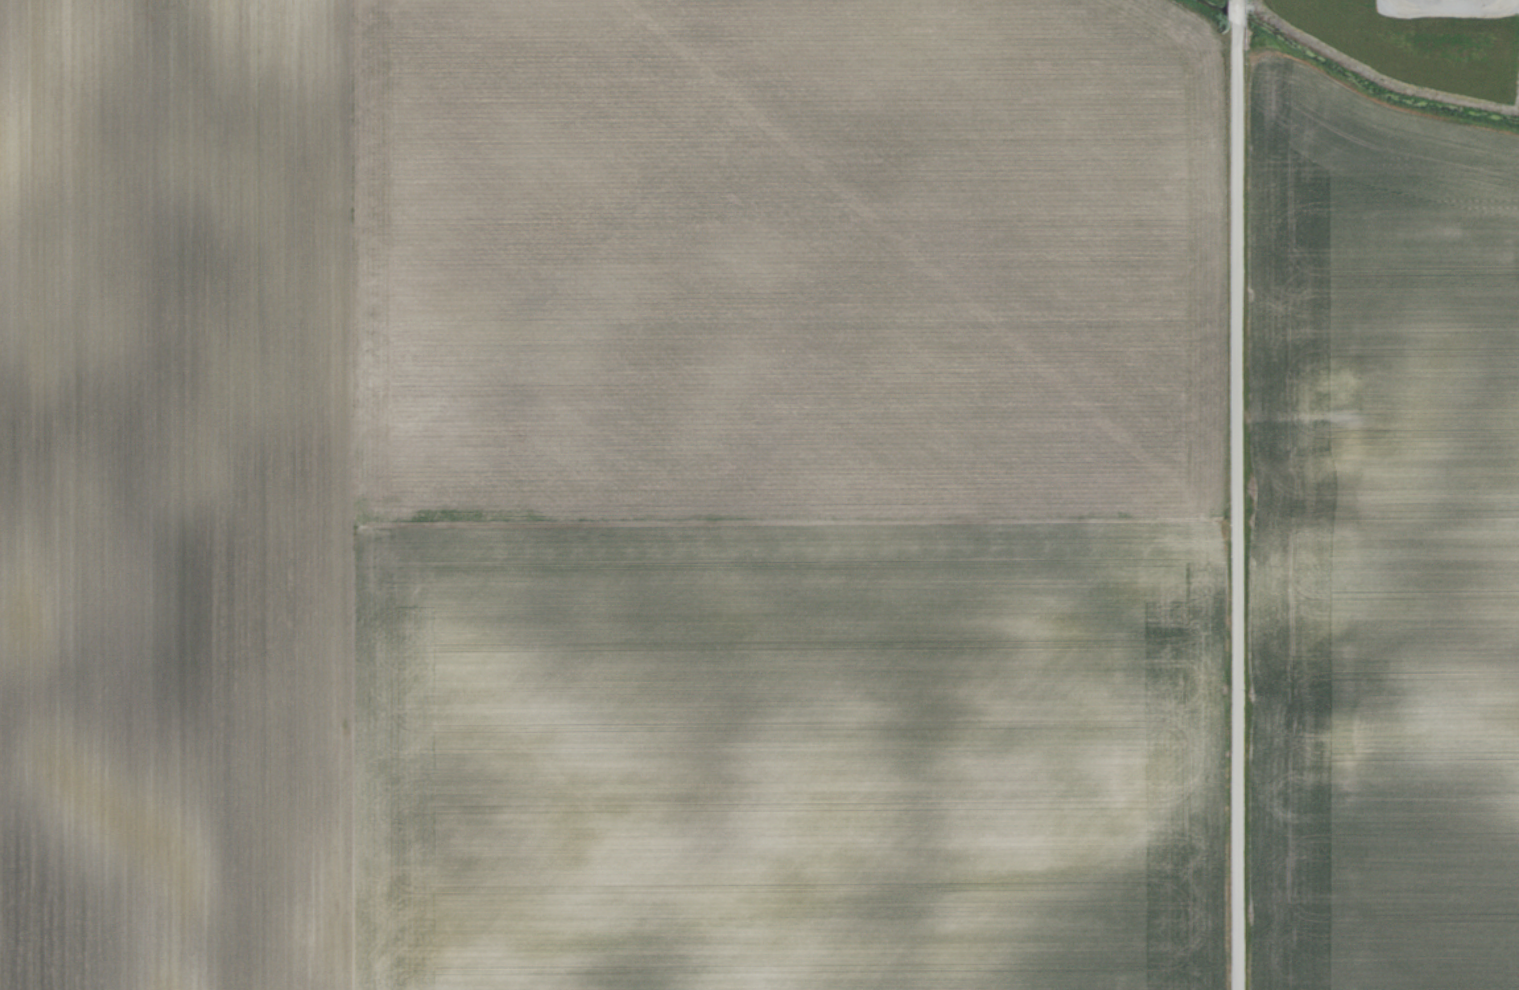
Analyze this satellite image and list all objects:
road: (1230, 495)

